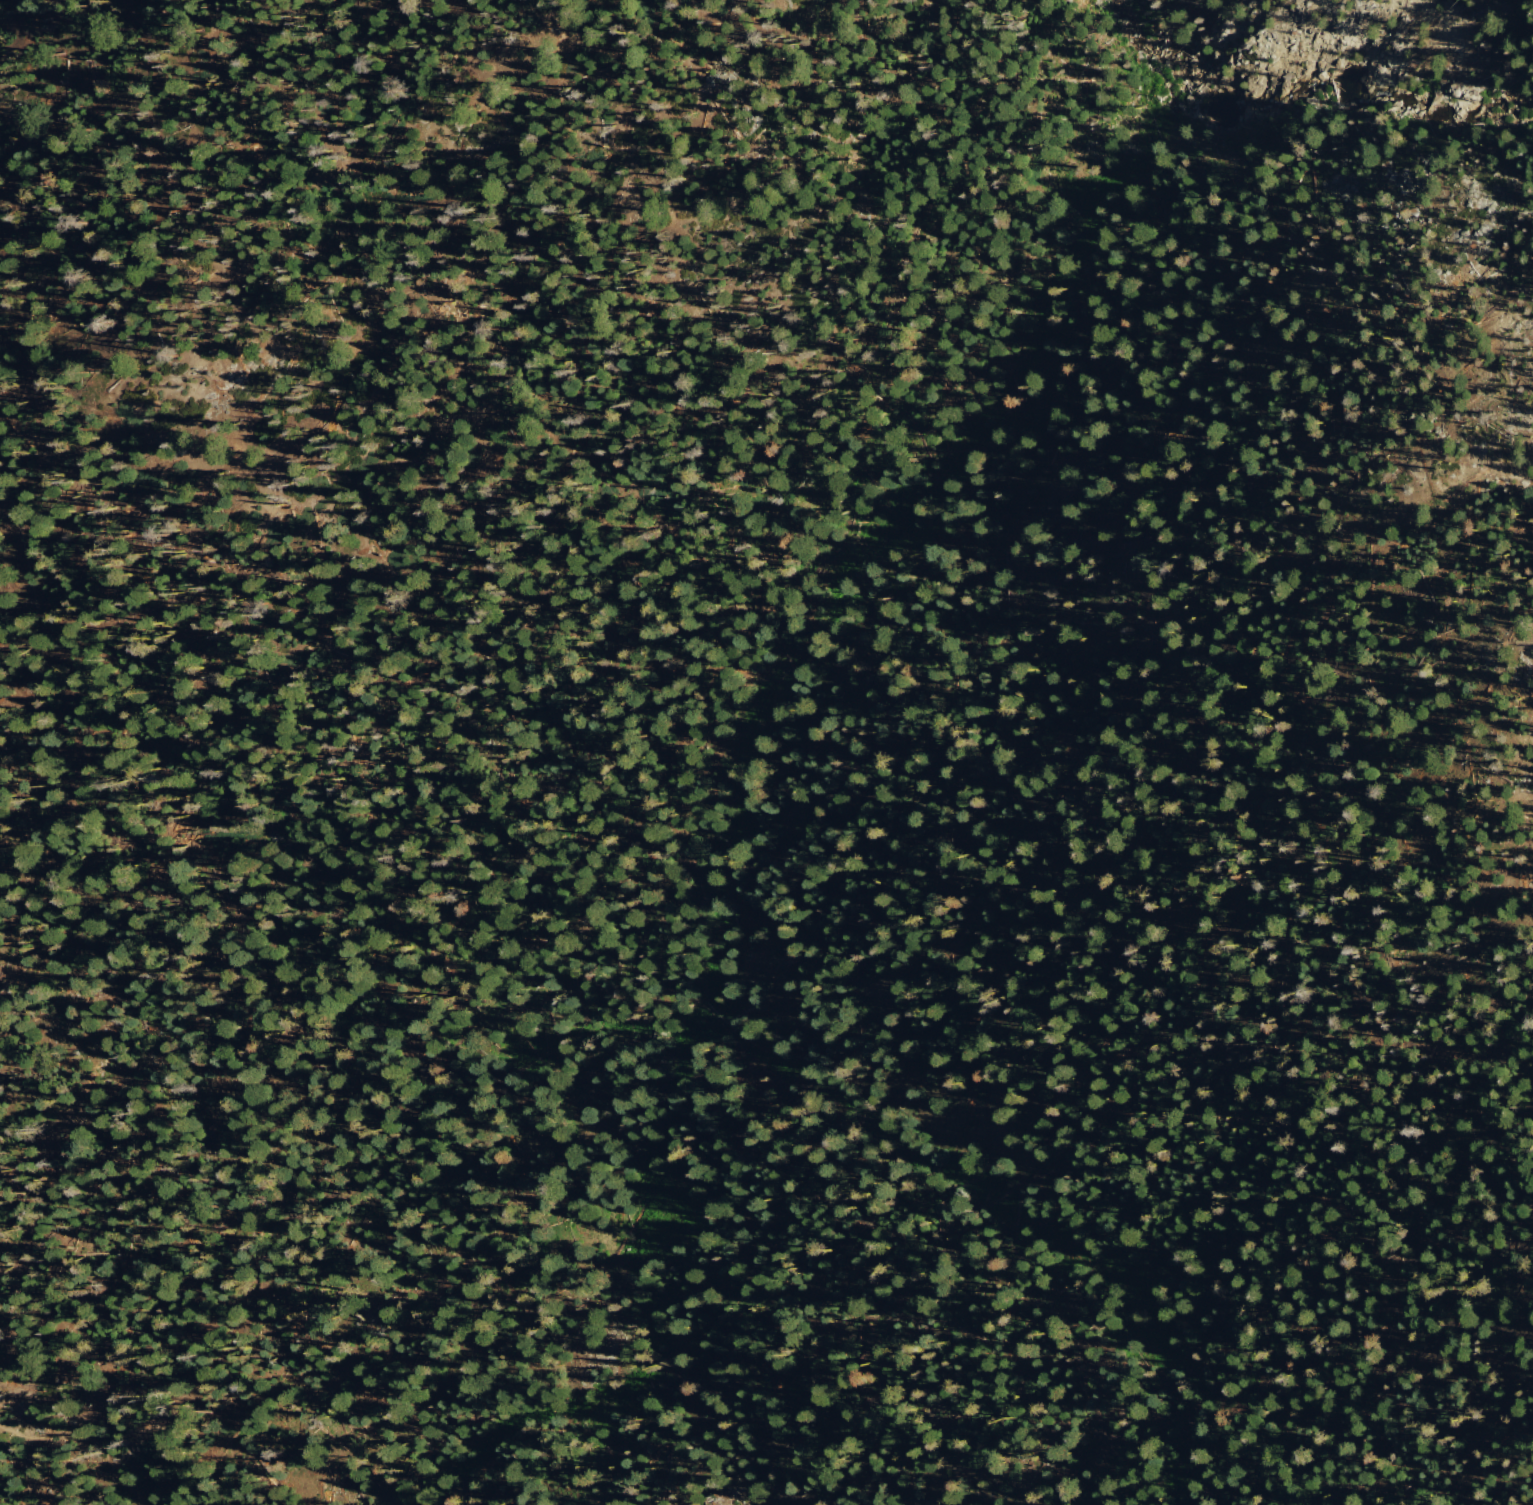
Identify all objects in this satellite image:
road: (84, 1433)
road: (1345, 1449)

